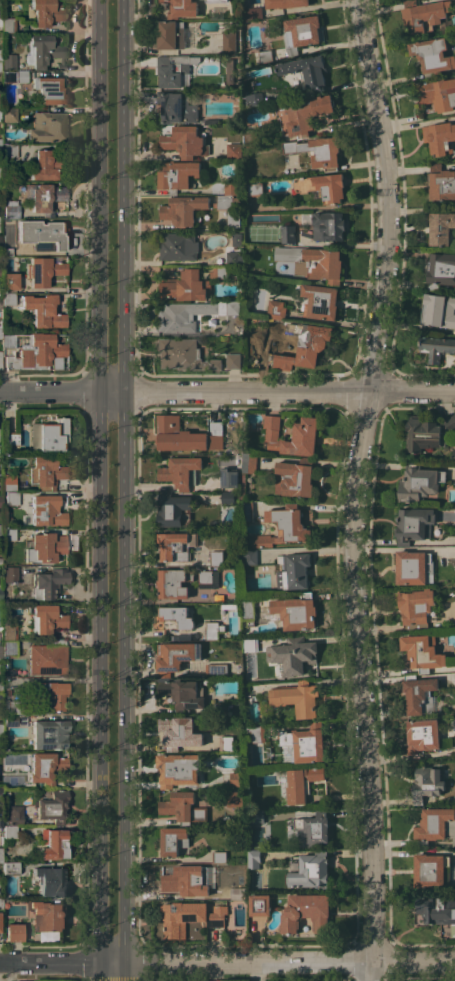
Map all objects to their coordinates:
building: (216, 1)
building: (285, 3)
road: (308, 6)
building: (180, 8)
building: (46, 12)
building: (254, 13)
building: (424, 14)
building: (8, 25)
building: (300, 33)
building: (171, 35)
building: (228, 42)
road: (171, 51)
building: (45, 52)
building: (432, 55)
building: (262, 56)
building: (8, 62)
building: (173, 69)
building: (230, 70)
building: (307, 72)
building: (14, 77)
building: (49, 90)
building: (438, 93)
building: (254, 98)
building: (176, 107)
building: (301, 114)
building: (9, 115)
building: (47, 127)
building: (439, 137)
building: (251, 140)
building: (184, 141)
building: (0, 149)
building: (10, 151)
building: (234, 151)
building: (317, 151)
building: (46, 165)
building: (176, 175)
building: (441, 182)
building: (323, 186)
building: (232, 188)
building: (255, 188)
road: (198, 190)
road: (146, 191)
road: (173, 191)
road: (124, 193)
road: (99, 194)
road: (383, 194)
building: (43, 197)
building: (194, 207)
building: (0, 209)
building: (10, 209)
building: (232, 218)
building: (328, 225)
building: (441, 228)
building: (288, 233)
building: (42, 235)
building: (236, 239)
building: (0, 240)
building: (178, 246)
building: (6, 252)
building: (232, 257)
road: (173, 261)
building: (313, 261)
building: (441, 269)
building: (42, 271)
building: (219, 271)
building: (0, 272)
building: (9, 282)
building: (186, 286)
building: (8, 299)
building: (320, 301)
building: (0, 302)
building: (276, 309)
building: (438, 310)
building: (43, 311)
building: (191, 314)
building: (0, 332)
building: (304, 345)
building: (436, 347)
building: (33, 352)
building: (184, 355)
building: (233, 361)
building: (0, 364)
road: (227, 388)
building: (304, 433)
building: (428, 433)
building: (48, 435)
building: (186, 435)
building: (10, 439)
building: (453, 456)
building: (0, 470)
building: (246, 470)
building: (180, 471)
building: (45, 473)
building: (294, 477)
building: (228, 478)
building: (8, 482)
building: (419, 483)
building: (11, 498)
building: (227, 498)
building: (172, 509)
building: (46, 511)
building: (246, 511)
building: (414, 525)
building: (284, 526)
building: (0, 531)
building: (8, 535)
building: (176, 545)
building: (44, 548)
building: (216, 556)
building: (250, 556)
building: (0, 563)
building: (214, 566)
building: (412, 566)
building: (293, 571)
building: (10, 574)
building: (207, 576)
building: (48, 582)
building: (173, 583)
building: (0, 594)
building: (417, 608)
building: (247, 610)
building: (294, 611)
building: (175, 617)
building: (45, 619)
building: (213, 630)
building: (9, 632)
building: (250, 646)
building: (9, 648)
building: (422, 652)
building: (0, 654)
building: (292, 654)
building: (175, 656)
building: (46, 658)
building: (194, 668)
building: (216, 670)
road: (99, 684)
road: (124, 684)
road: (364, 684)
building: (246, 686)
building: (0, 687)
building: (53, 694)
building: (182, 694)
building: (419, 694)
building: (0, 698)
building: (297, 698)
building: (247, 699)
building: (12, 707)
building: (228, 708)
building: (14, 720)
building: (1, 729)
building: (179, 732)
building: (48, 734)
building: (255, 734)
building: (422, 735)
building: (305, 742)
building: (226, 743)
building: (45, 768)
building: (177, 769)
building: (250, 772)
building: (236, 779)
building: (454, 782)
building: (301, 783)
building: (427, 783)
building: (0, 794)
building: (235, 798)
building: (52, 807)
building: (183, 807)
building: (12, 815)
building: (256, 816)
building: (1, 822)
building: (435, 825)
building: (312, 829)
building: (20, 830)
building: (10, 832)
building: (173, 840)
building: (53, 845)
building: (0, 855)
building: (219, 856)
building: (253, 858)
building: (244, 864)
building: (9, 868)
building: (313, 869)
building: (432, 870)
building: (51, 881)
building: (184, 881)
building: (239, 893)
building: (0, 904)
building: (260, 905)
building: (436, 909)
building: (305, 912)
building: (50, 915)
building: (189, 916)
building: (13, 932)
road: (227, 960)

